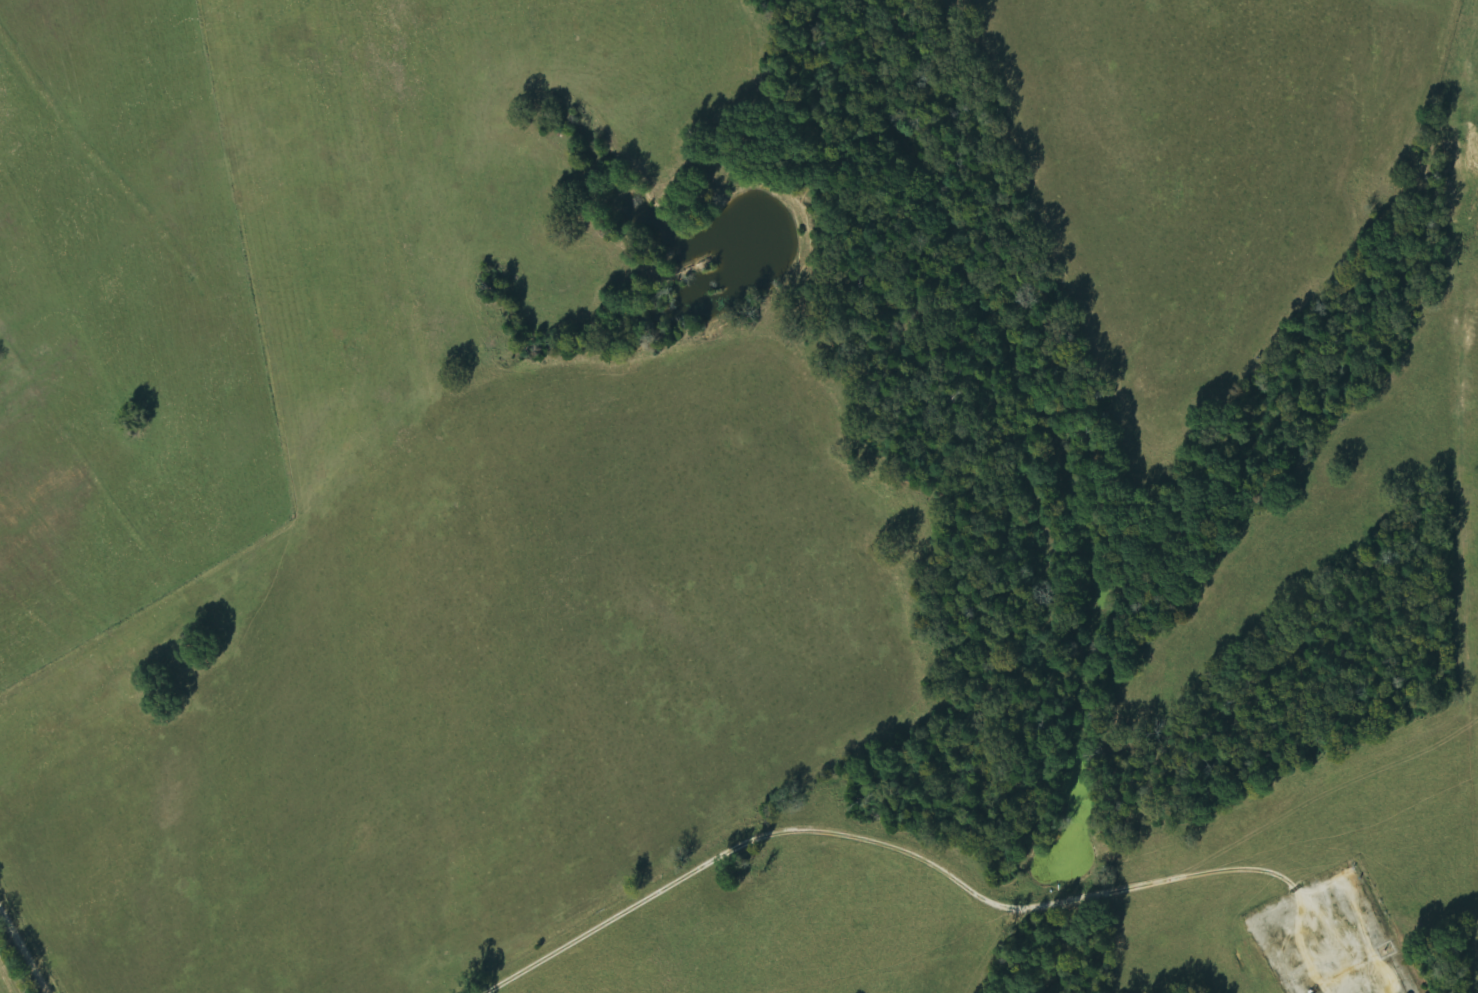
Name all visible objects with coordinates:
dam: (806, 224)
road: (20, 958)

